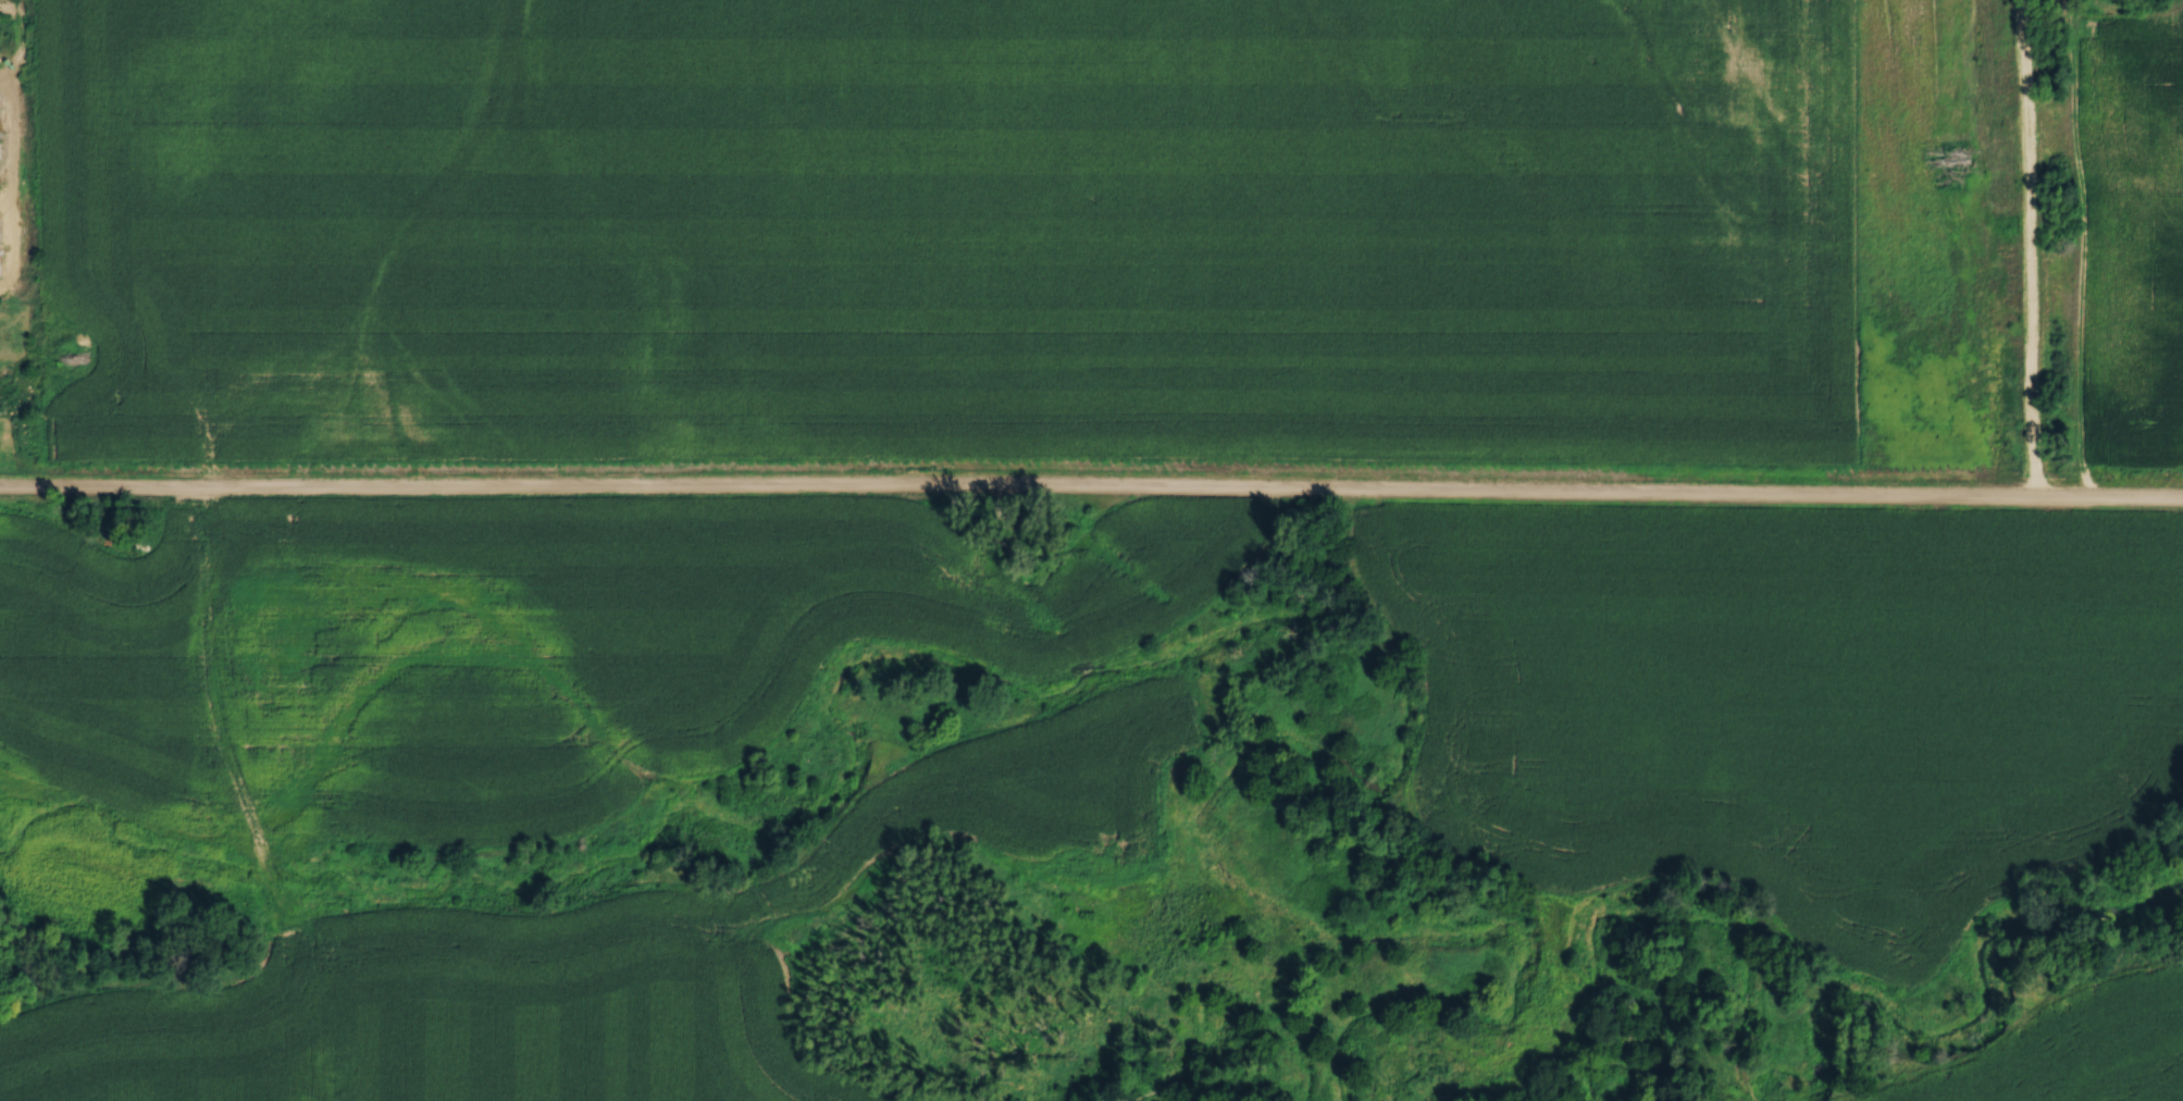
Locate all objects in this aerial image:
building: (0, 154)
building: (1, 243)
road: (2026, 248)
road: (1019, 486)
road: (2110, 497)

